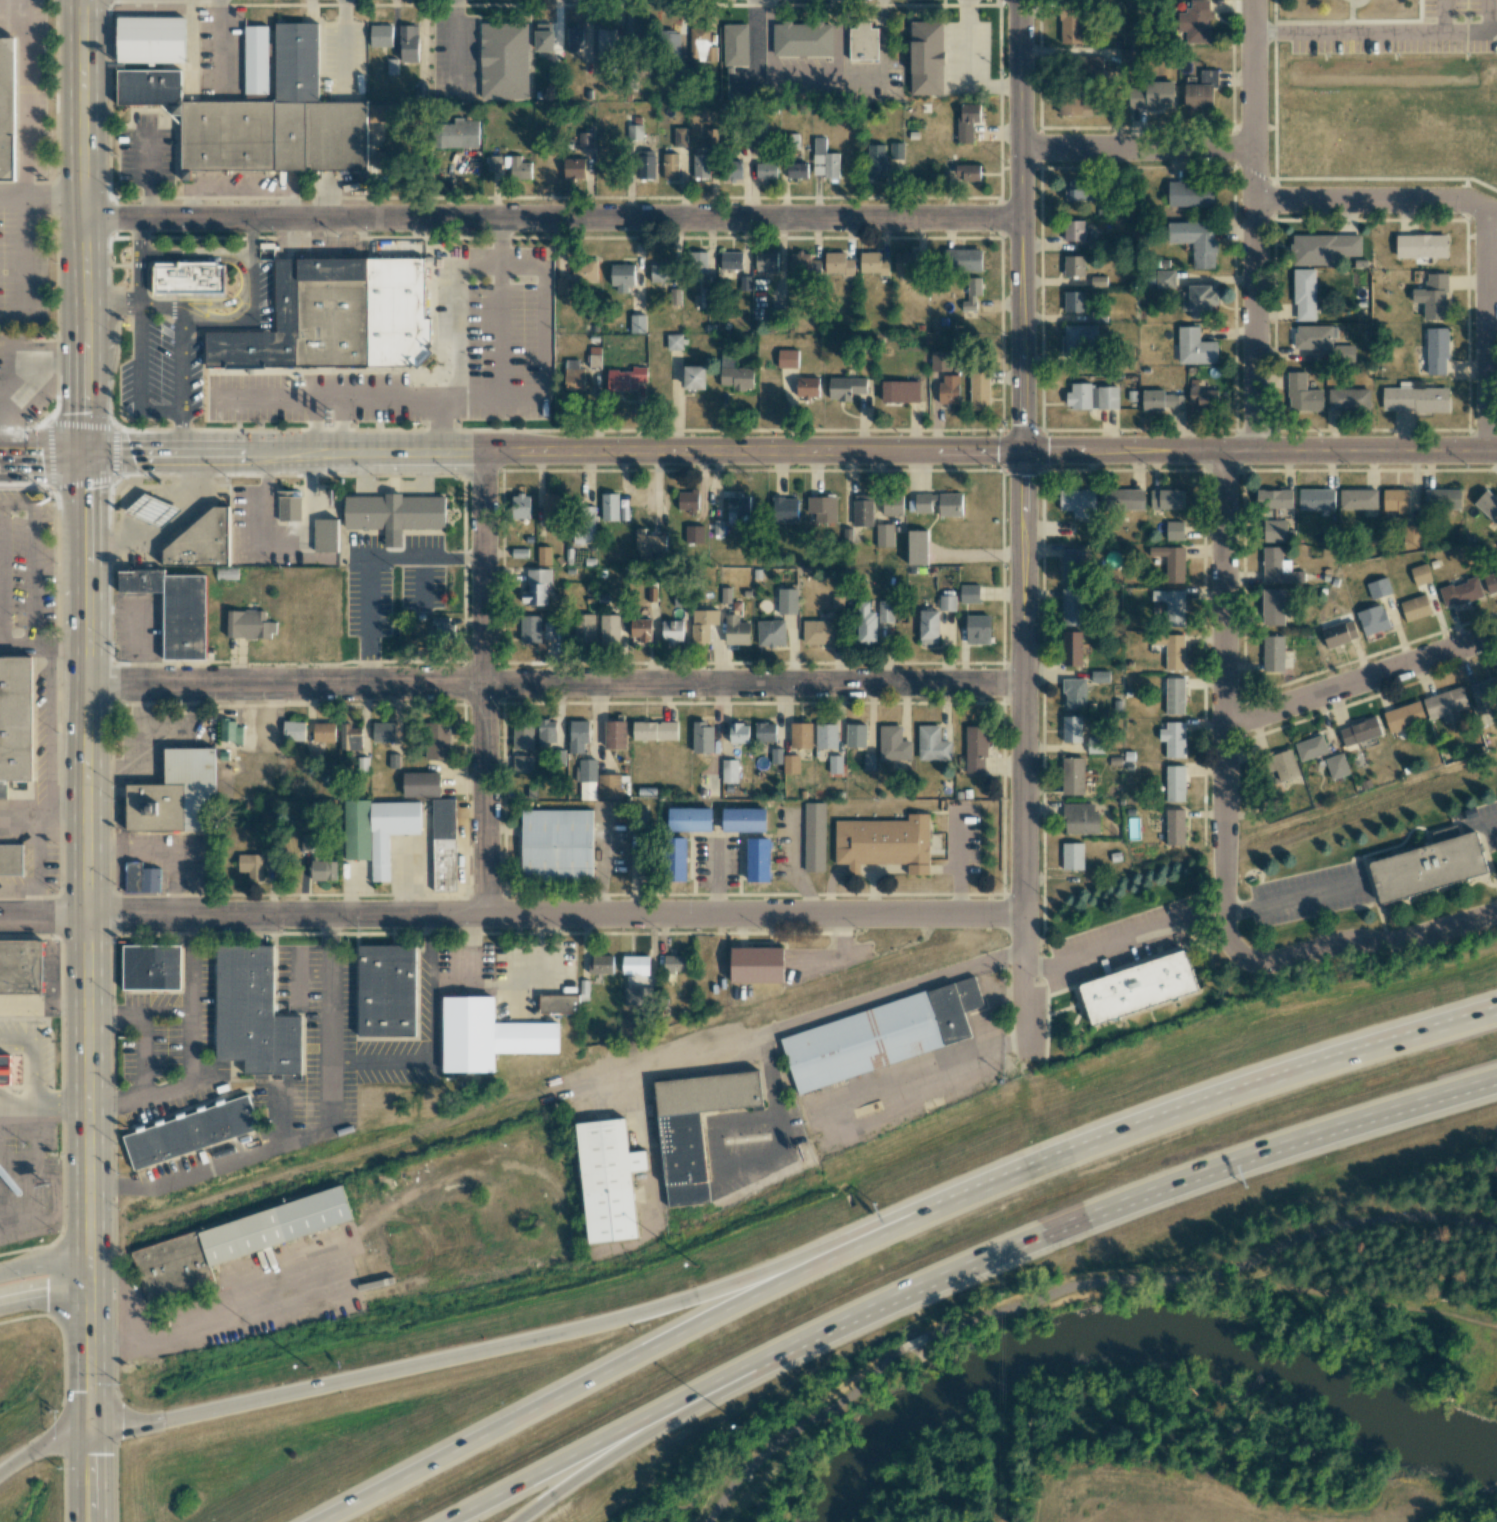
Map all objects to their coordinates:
road: (1443, 15)
building: (1070, 25)
road: (1384, 31)
building: (381, 36)
building: (544, 37)
building: (151, 39)
building: (574, 39)
building: (408, 43)
building: (605, 43)
building: (671, 43)
building: (798, 46)
building: (859, 48)
building: (732, 50)
building: (711, 54)
building: (1126, 57)
building: (256, 59)
building: (505, 60)
building: (922, 64)
building: (1092, 66)
building: (1208, 77)
building: (421, 91)
building: (1149, 94)
building: (1198, 96)
road: (27, 97)
building: (1077, 105)
building: (10, 109)
building: (382, 113)
building: (261, 116)
building: (966, 122)
park: (1375, 130)
building: (457, 134)
building: (634, 134)
building: (680, 137)
building: (585, 140)
road: (1136, 149)
building: (896, 151)
building: (379, 159)
building: (824, 160)
building: (875, 161)
building: (643, 166)
building: (670, 166)
building: (701, 166)
building: (517, 167)
building: (574, 168)
building: (734, 170)
building: (766, 170)
building: (797, 170)
building: (967, 173)
building: (1076, 189)
road: (41, 194)
building: (1190, 194)
road: (1375, 203)
road: (552, 219)
road: (1022, 225)
road: (82, 226)
building: (1073, 230)
building: (1194, 241)
building: (1420, 246)
building: (1323, 248)
building: (731, 260)
building: (965, 260)
building: (766, 261)
building: (703, 262)
building: (799, 262)
building: (905, 262)
building: (837, 263)
building: (873, 263)
building: (1073, 265)
building: (584, 269)
building: (659, 273)
building: (622, 277)
building: (189, 278)
building: (1164, 279)
building: (1098, 281)
building: (744, 283)
building: (560, 286)
building: (971, 294)
building: (1304, 294)
building: (675, 296)
building: (1432, 296)
building: (705, 297)
building: (1199, 300)
building: (1074, 301)
building: (313, 324)
building: (637, 324)
road: (1487, 328)
building: (1312, 337)
building: (1080, 340)
building: (674, 342)
building: (1195, 347)
building: (1436, 351)
building: (787, 358)
building: (940, 360)
building: (735, 374)
building: (573, 375)
building: (694, 377)
building: (626, 379)
building: (807, 387)
building: (845, 388)
building: (948, 389)
building: (979, 389)
building: (899, 391)
building: (1302, 394)
building: (1078, 396)
building: (1106, 397)
building: (1202, 397)
building: (1348, 399)
building: (1415, 399)
building: (1161, 401)
road: (1259, 450)
road: (752, 451)
traffic signals: (1022, 451)
road: (41, 452)
road: (282, 452)
traffic signals: (83, 453)
road: (1492, 453)
road: (1232, 461)
road: (641, 496)
building: (1274, 498)
building: (1122, 499)
building: (1166, 499)
building: (1316, 499)
building: (1358, 499)
building: (1442, 499)
building: (1395, 500)
building: (688, 501)
building: (1077, 502)
building: (939, 503)
building: (1487, 505)
building: (519, 506)
building: (737, 506)
building: (892, 506)
building: (288, 507)
building: (609, 507)
building: (822, 508)
building: (552, 509)
building: (784, 509)
building: (862, 510)
building: (394, 512)
building: (584, 526)
building: (1174, 530)
building: (1273, 531)
building: (1411, 533)
building: (694, 534)
building: (325, 535)
building: (884, 535)
building: (202, 542)
building: (650, 544)
building: (917, 547)
building: (543, 555)
building: (1170, 562)
building: (1278, 567)
building: (1072, 568)
building: (1420, 574)
building: (1496, 574)
building: (536, 587)
building: (1378, 588)
building: (1459, 592)
building: (969, 594)
building: (725, 595)
building: (787, 601)
building: (947, 603)
building: (837, 605)
building: (1171, 605)
building: (1272, 606)
building: (1071, 607)
building: (1415, 608)
building: (177, 611)
building: (885, 611)
building: (1373, 619)
building: (249, 624)
building: (702, 624)
building: (865, 624)
building: (928, 627)
building: (443, 629)
building: (584, 629)
building: (609, 629)
building: (978, 629)
building: (529, 630)
building: (548, 630)
building: (640, 630)
building: (736, 630)
building: (672, 632)
building: (818, 632)
building: (770, 633)
building: (1338, 635)
building: (1071, 648)
building: (1171, 650)
building: (1273, 653)
building: (1099, 676)
road: (1360, 681)
road: (552, 683)
road: (1022, 683)
road: (484, 684)
building: (1074, 694)
building: (1174, 696)
building: (1484, 697)
building: (1445, 705)
building: (1403, 716)
building: (16, 721)
building: (1071, 729)
building: (230, 731)
building: (294, 731)
building: (654, 731)
building: (1359, 731)
building: (324, 732)
building: (383, 732)
building: (546, 732)
building: (765, 732)
building: (738, 733)
building: (615, 735)
building: (800, 735)
building: (855, 735)
building: (578, 736)
building: (826, 736)
building: (350, 737)
building: (522, 737)
building: (702, 738)
building: (1173, 739)
building: (438, 743)
building: (892, 744)
building: (932, 744)
building: (1310, 748)
building: (975, 749)
building: (524, 763)
building: (1284, 765)
building: (1336, 766)
building: (586, 770)
building: (727, 770)
building: (1072, 776)
building: (1174, 783)
building: (421, 784)
building: (609, 785)
building: (175, 795)
building: (1080, 818)
building: (689, 819)
building: (743, 820)
building: (1175, 827)
building: (377, 831)
building: (814, 837)
building: (883, 843)
building: (443, 845)
building: (556, 845)
building: (270, 856)
building: (1072, 856)
building: (757, 857)
building: (677, 859)
building: (11, 860)
building: (251, 865)
road: (86, 868)
building: (322, 870)
building: (1420, 874)
building: (141, 878)
road: (1290, 897)
road: (511, 917)
road: (1351, 942)
building: (675, 964)
building: (601, 965)
building: (635, 965)
building: (751, 971)
building: (147, 973)
building: (18, 974)
road: (1023, 986)
building: (644, 994)
building: (1130, 994)
building: (384, 997)
building: (558, 1004)
road: (138, 1012)
road: (817, 1015)
building: (249, 1020)
building: (483, 1040)
building: (879, 1041)
road: (191, 1051)
building: (2, 1075)
road: (1215, 1099)
building: (692, 1131)
building: (187, 1138)
building: (603, 1185)
road: (1128, 1201)
building: (231, 1242)
road: (43, 1264)
street lamp: (695, 1265)
road: (1212, 1278)
park: (1346, 1286)
road: (43, 1291)
road: (54, 1304)
road: (672, 1304)
road: (208, 1319)
river: (1137, 1342)
road: (912, 1343)
road: (103, 1356)
road: (76, 1359)
road: (628, 1360)
street lamp: (311, 1364)
traffic signals: (76, 1390)
road: (250, 1402)
road: (795, 1426)
traffic signals: (121, 1428)
road: (639, 1430)
road: (90, 1433)
road: (608, 1437)
road: (36, 1449)
park: (1159, 1450)
traffic signals: (104, 1453)
road: (104, 1476)
road: (77, 1479)

